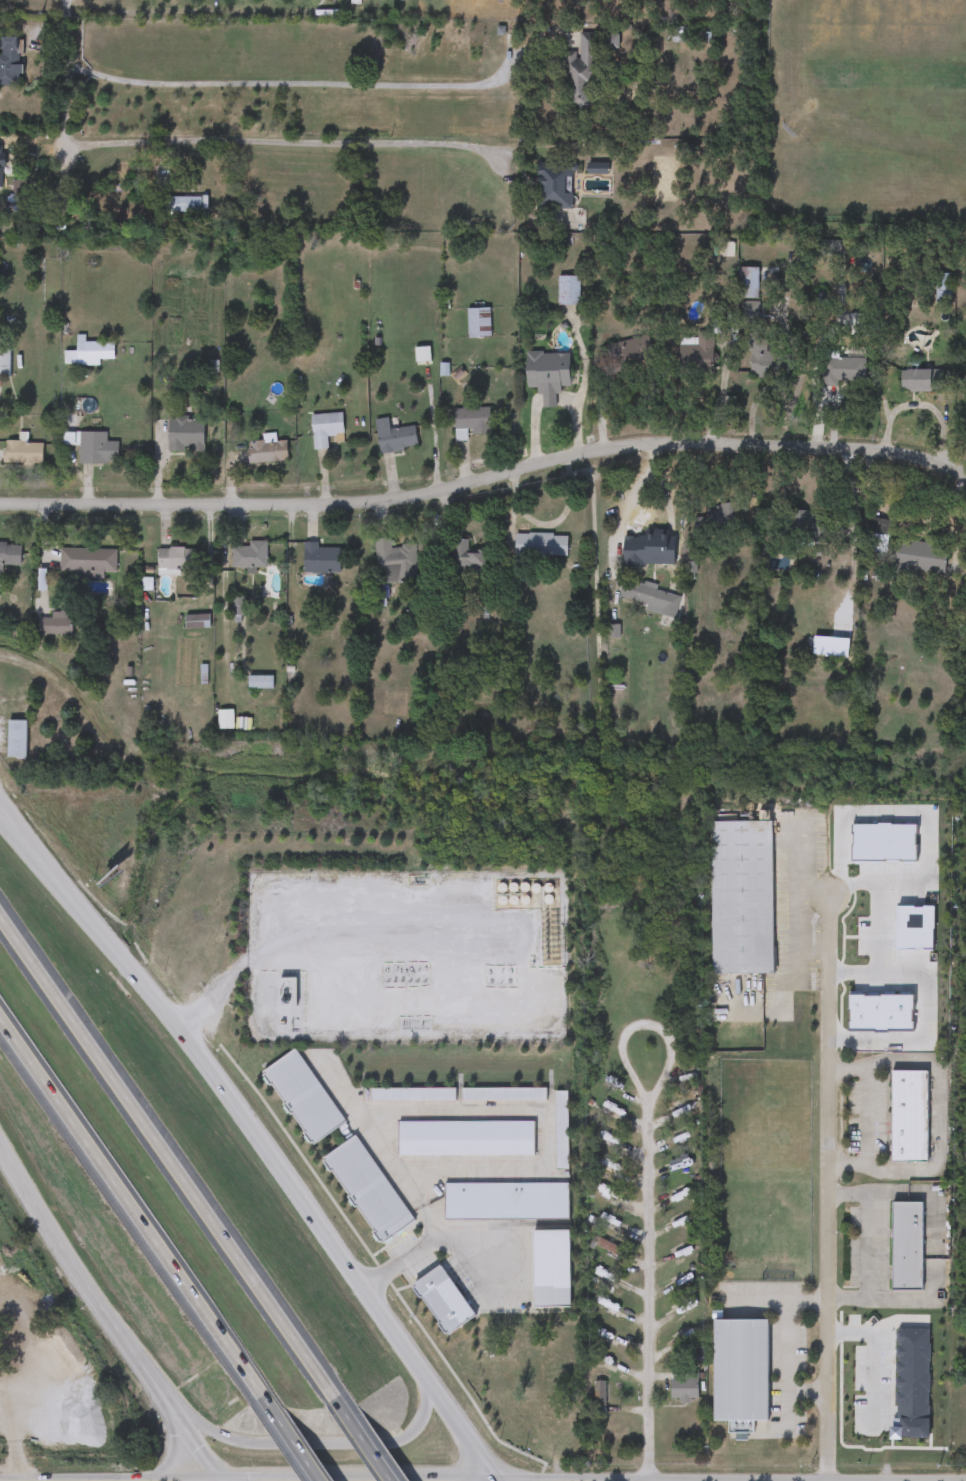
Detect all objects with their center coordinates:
building: (701, 37)
building: (610, 41)
building: (10, 62)
building: (581, 74)
road: (65, 83)
road: (323, 83)
road: (299, 141)
building: (554, 189)
building: (10, 202)
building: (182, 204)
building: (747, 283)
building: (942, 289)
building: (567, 291)
building: (478, 323)
building: (704, 347)
building: (635, 350)
building: (96, 351)
building: (5, 359)
building: (765, 363)
building: (842, 372)
building: (546, 375)
building: (920, 381)
road: (718, 395)
building: (965, 400)
building: (471, 421)
building: (324, 429)
building: (185, 436)
building: (393, 437)
building: (96, 449)
building: (266, 452)
building: (23, 454)
road: (485, 476)
building: (539, 545)
building: (9, 554)
road: (654, 554)
building: (249, 556)
building: (175, 559)
building: (320, 559)
building: (465, 559)
building: (915, 560)
building: (86, 562)
building: (394, 563)
building: (648, 597)
building: (237, 610)
building: (197, 622)
building: (55, 624)
building: (827, 646)
building: (260, 682)
building: (16, 739)
road: (927, 821)
road: (52, 867)
road: (54, 873)
road: (812, 892)
building: (741, 897)
road: (798, 909)
road: (876, 930)
building: (599, 957)
road: (249, 959)
road: (145, 982)
road: (923, 1009)
road: (660, 1033)
road: (549, 1117)
building: (908, 1117)
road: (868, 1118)
road: (383, 1148)
road: (170, 1151)
road: (827, 1188)
road: (134, 1204)
road: (430, 1242)
road: (868, 1246)
building: (906, 1246)
road: (340, 1256)
road: (81, 1278)
road: (651, 1292)
road: (778, 1301)
road: (872, 1359)
road: (788, 1366)
building: (739, 1372)
building: (855, 1387)
building: (684, 1388)
road: (808, 1391)
building: (598, 1392)
road: (370, 1437)
road: (297, 1438)
road: (196, 1443)
road: (310, 1443)
road: (174, 1455)

